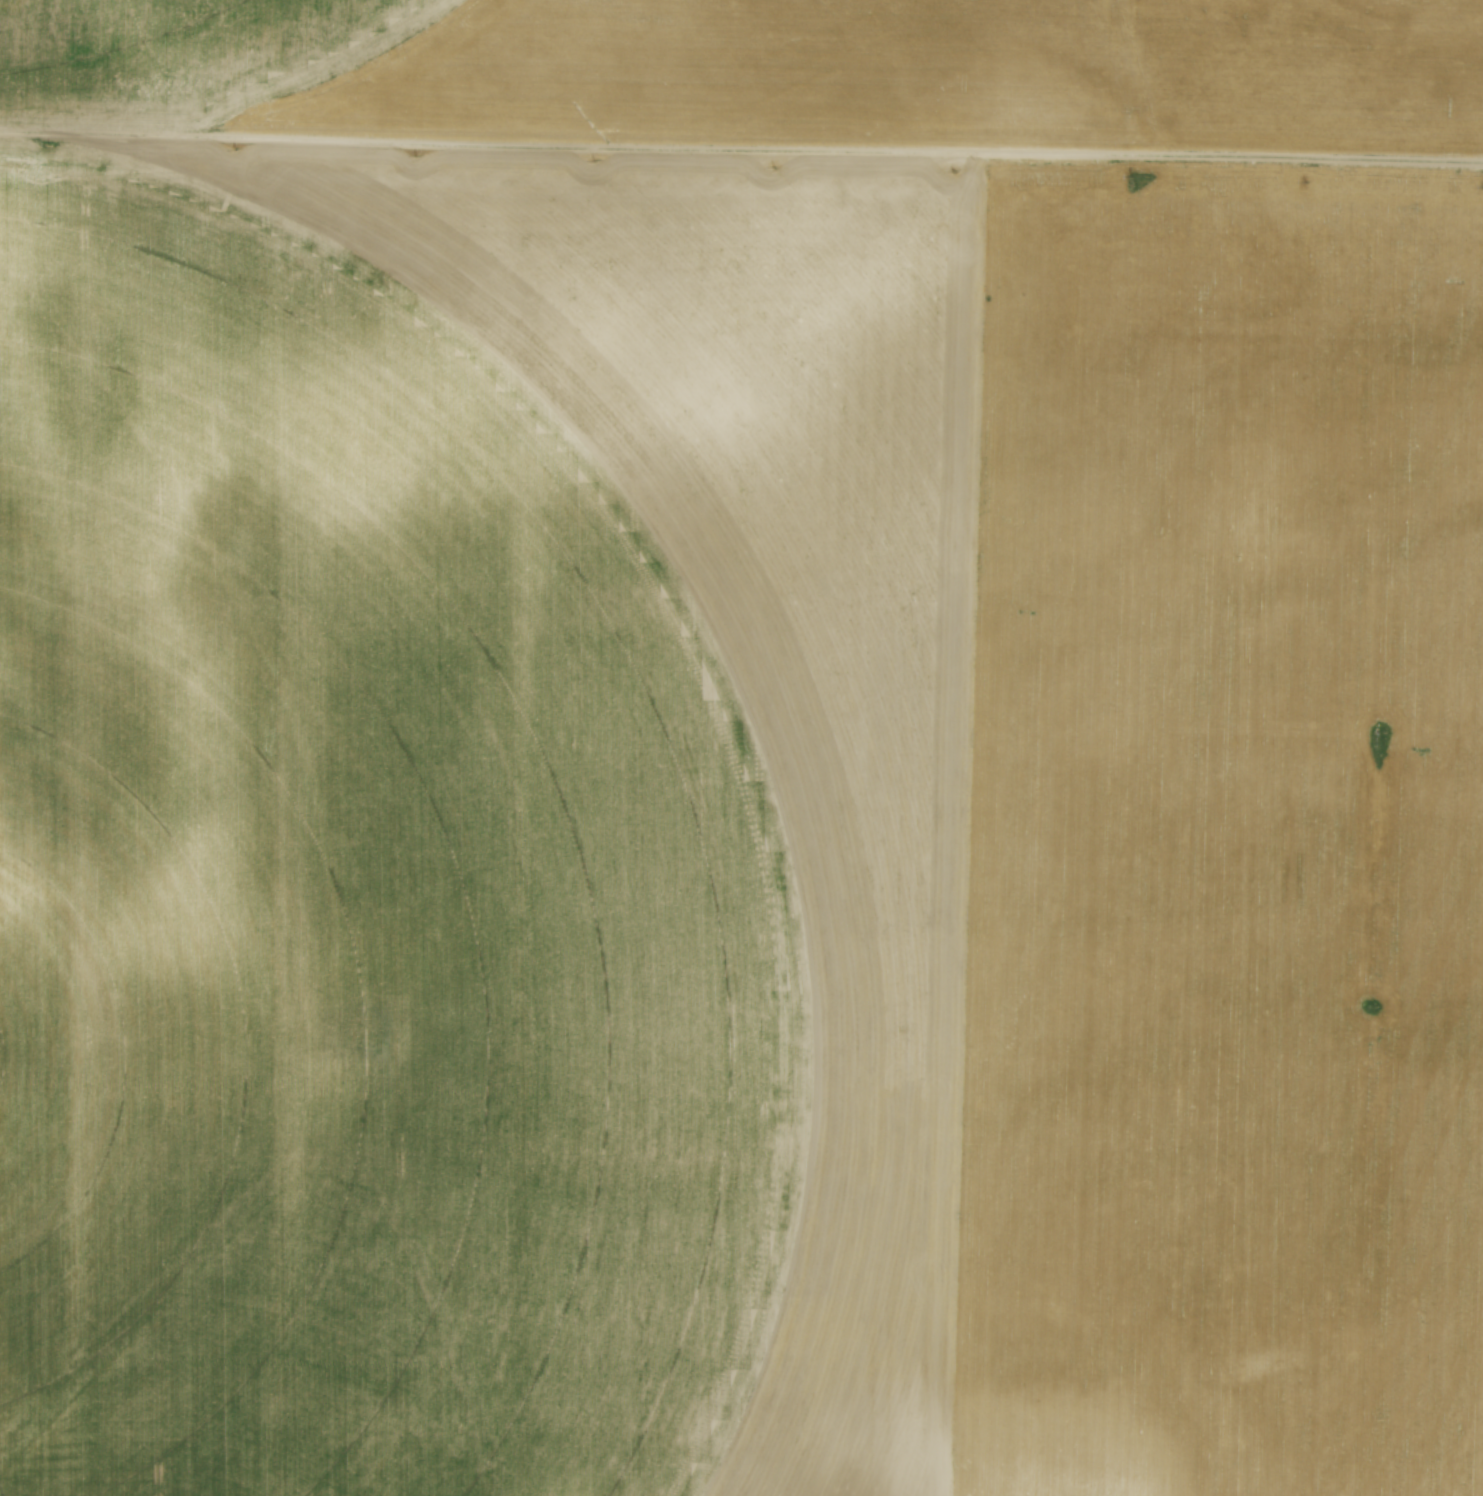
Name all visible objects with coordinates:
road: (1143, 80)
road: (1229, 159)
crop: (725, 809)

